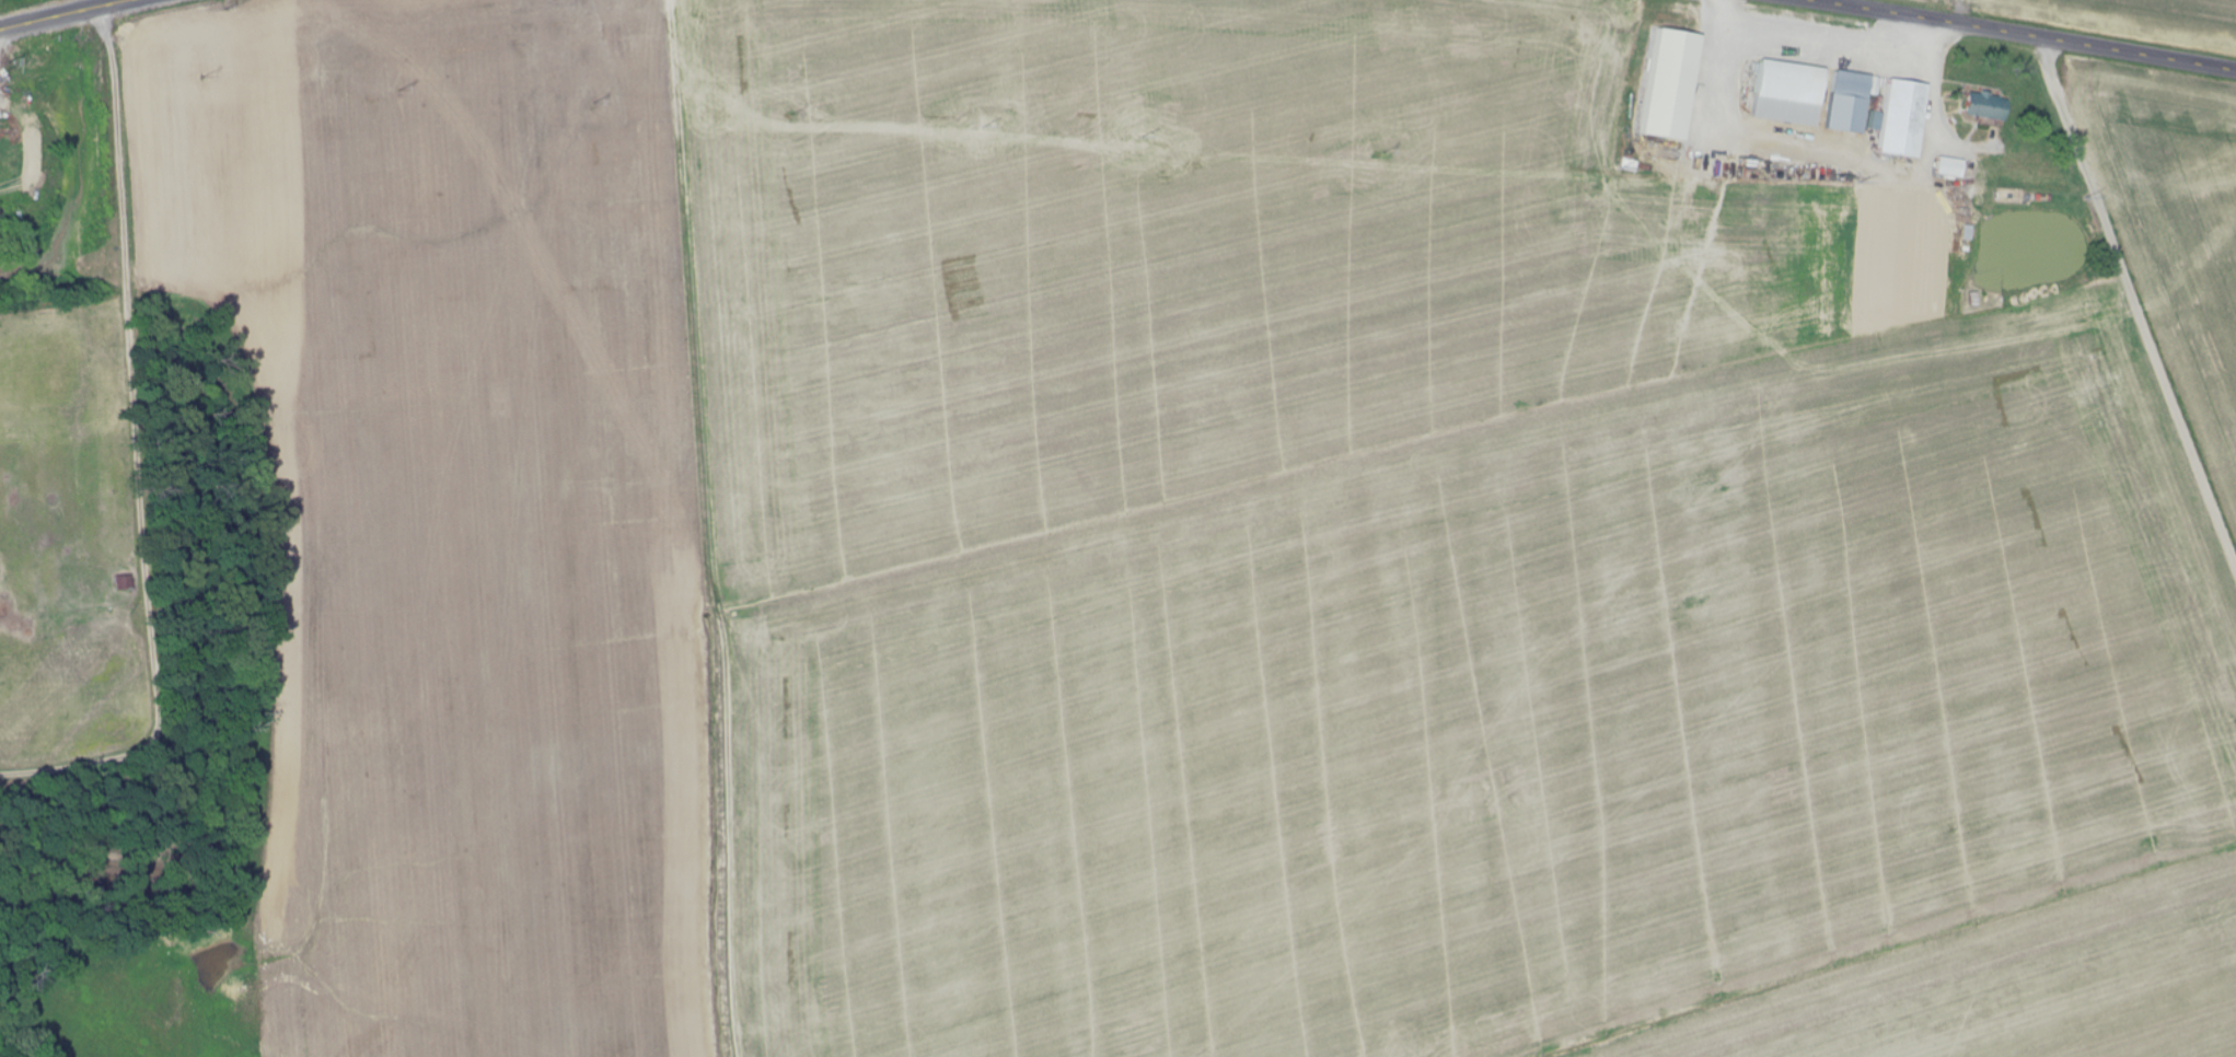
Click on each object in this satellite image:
road: (74, 16)
road: (2013, 34)
building: (1666, 84)
building: (1786, 93)
building: (1849, 101)
building: (1983, 106)
building: (1901, 119)
building: (1948, 167)
road: (2135, 299)

